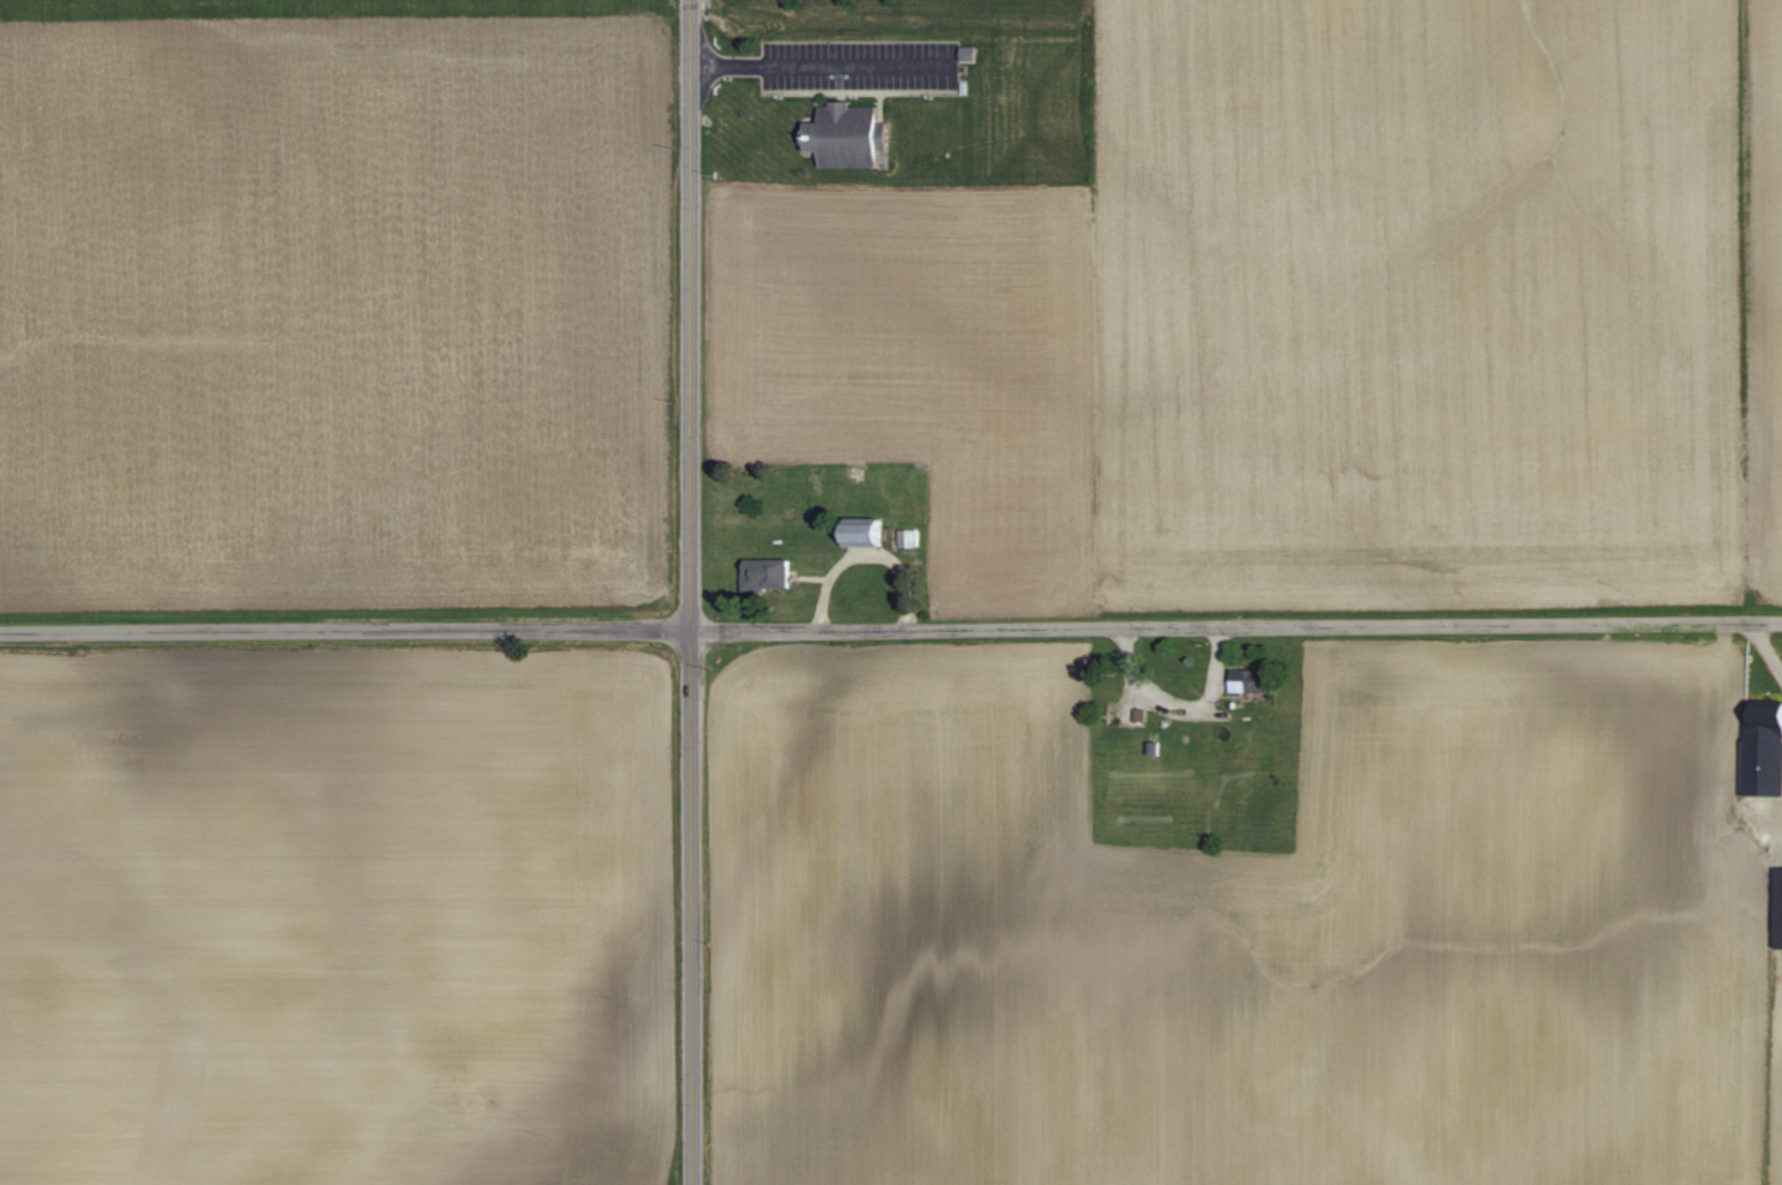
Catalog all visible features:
road: (821, 61)
building: (850, 136)
building: (868, 533)
building: (767, 573)
road: (687, 592)
road: (1234, 628)
road: (343, 631)
building: (1256, 681)
building: (1136, 714)
building: (1762, 747)
building: (1778, 908)

